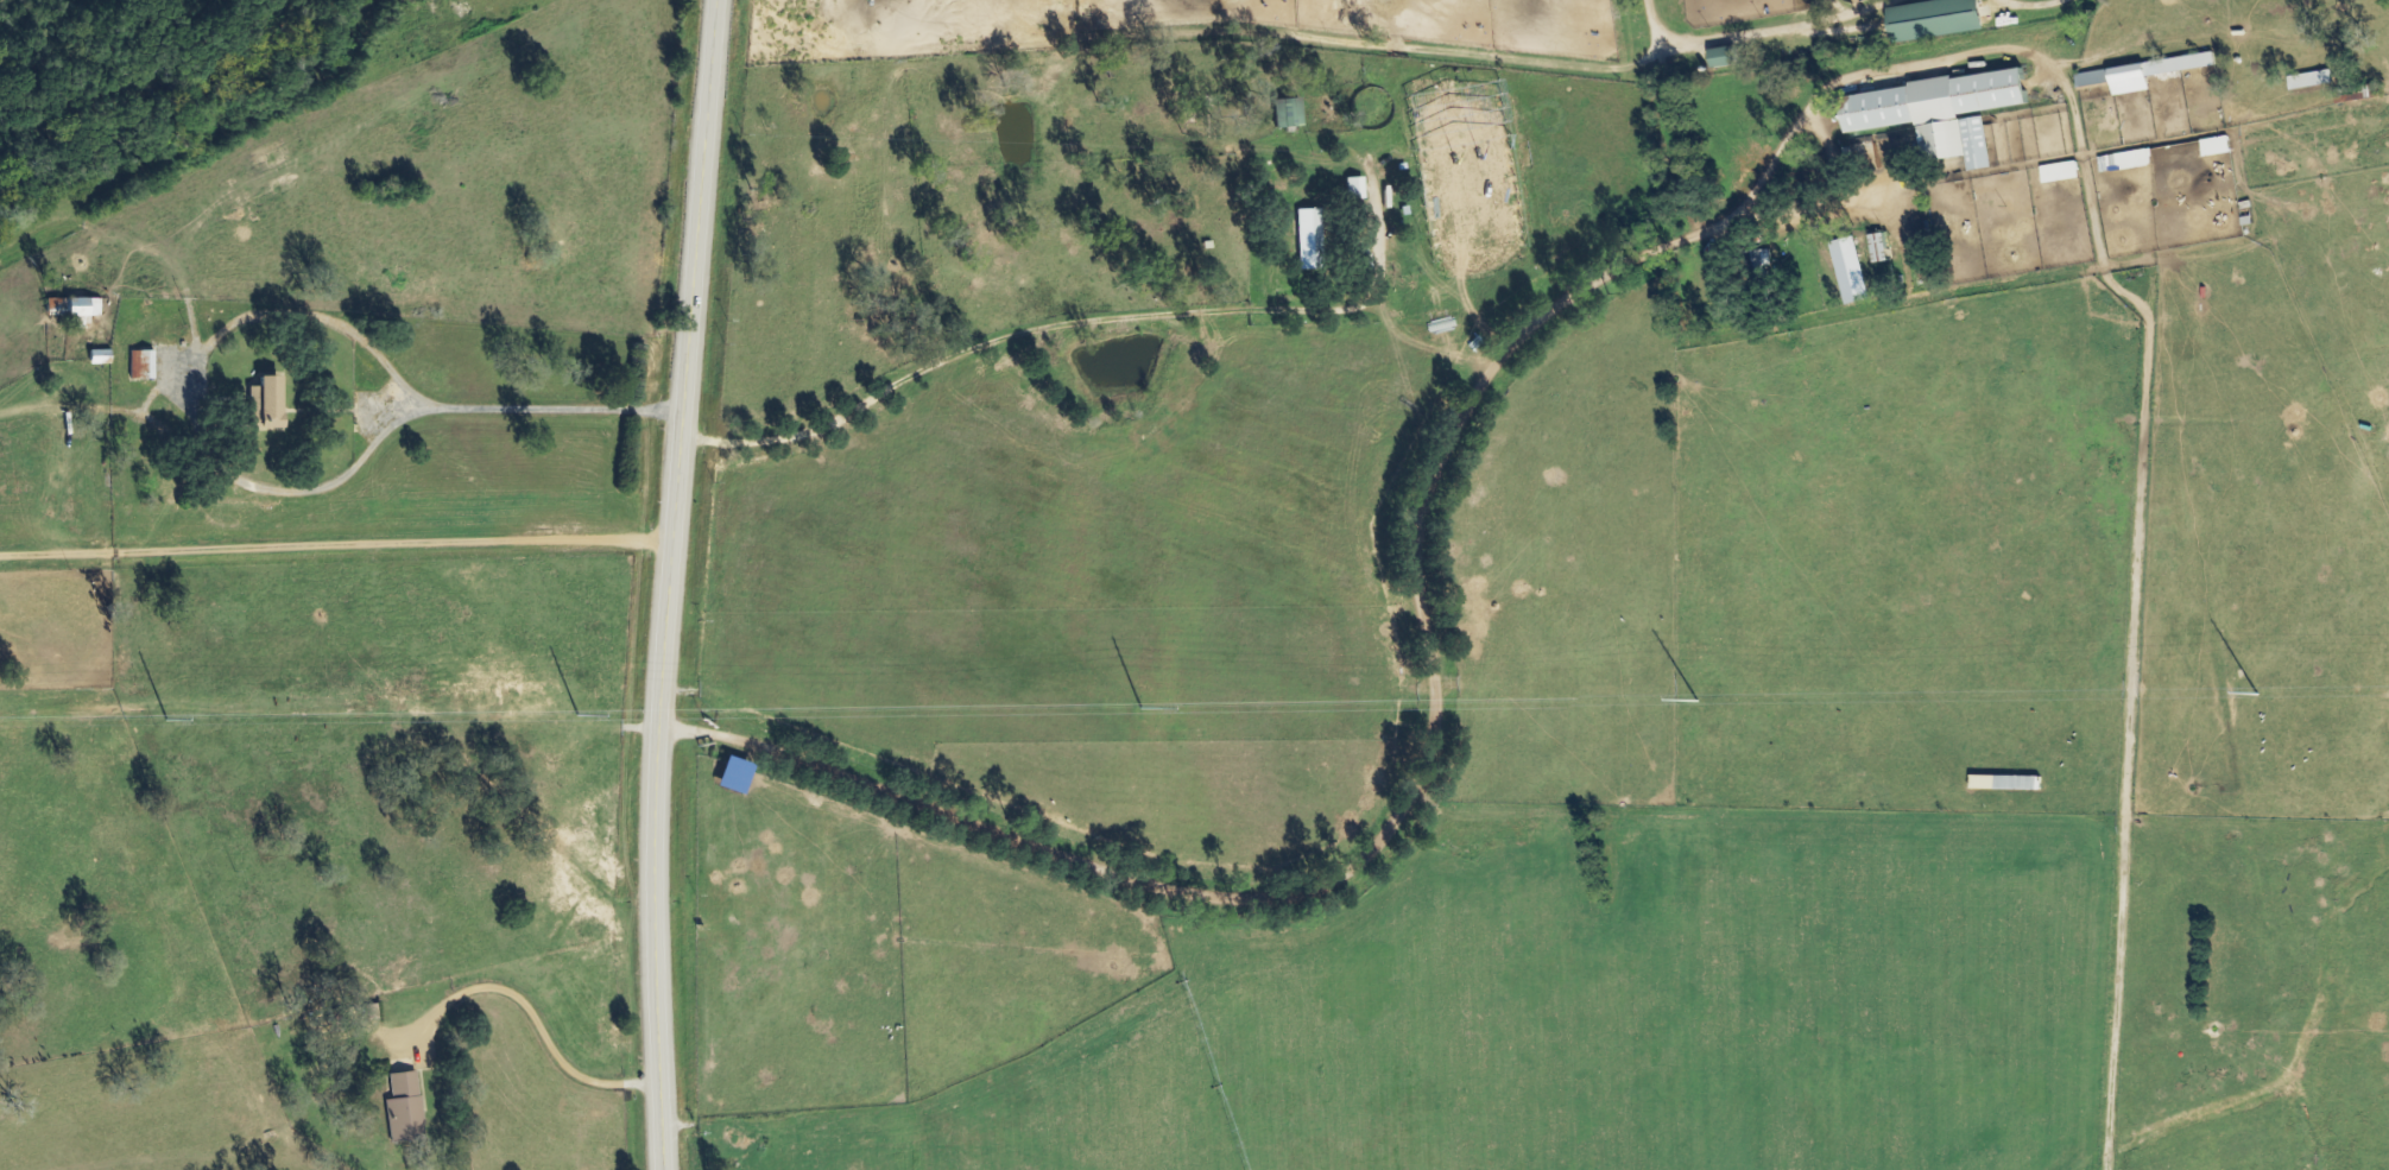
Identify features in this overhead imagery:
road: (2030, 6)
building: (1939, 19)
road: (1759, 32)
building: (1727, 57)
building: (2119, 81)
building: (1289, 113)
building: (1942, 113)
building: (2129, 162)
building: (2062, 173)
building: (1357, 189)
road: (1705, 219)
building: (1310, 239)
building: (1883, 249)
building: (1765, 260)
building: (1854, 267)
building: (84, 308)
road: (273, 315)
road: (1001, 329)
building: (101, 358)
building: (144, 366)
building: (263, 391)
road: (336, 548)
road: (669, 583)
power tower: (2262, 694)
power tower: (1696, 702)
power tower: (1139, 708)
power tower: (579, 715)
power tower: (166, 720)
building: (735, 776)
building: (2009, 784)
road: (1259, 891)
road: (531, 1023)
building: (406, 1109)

